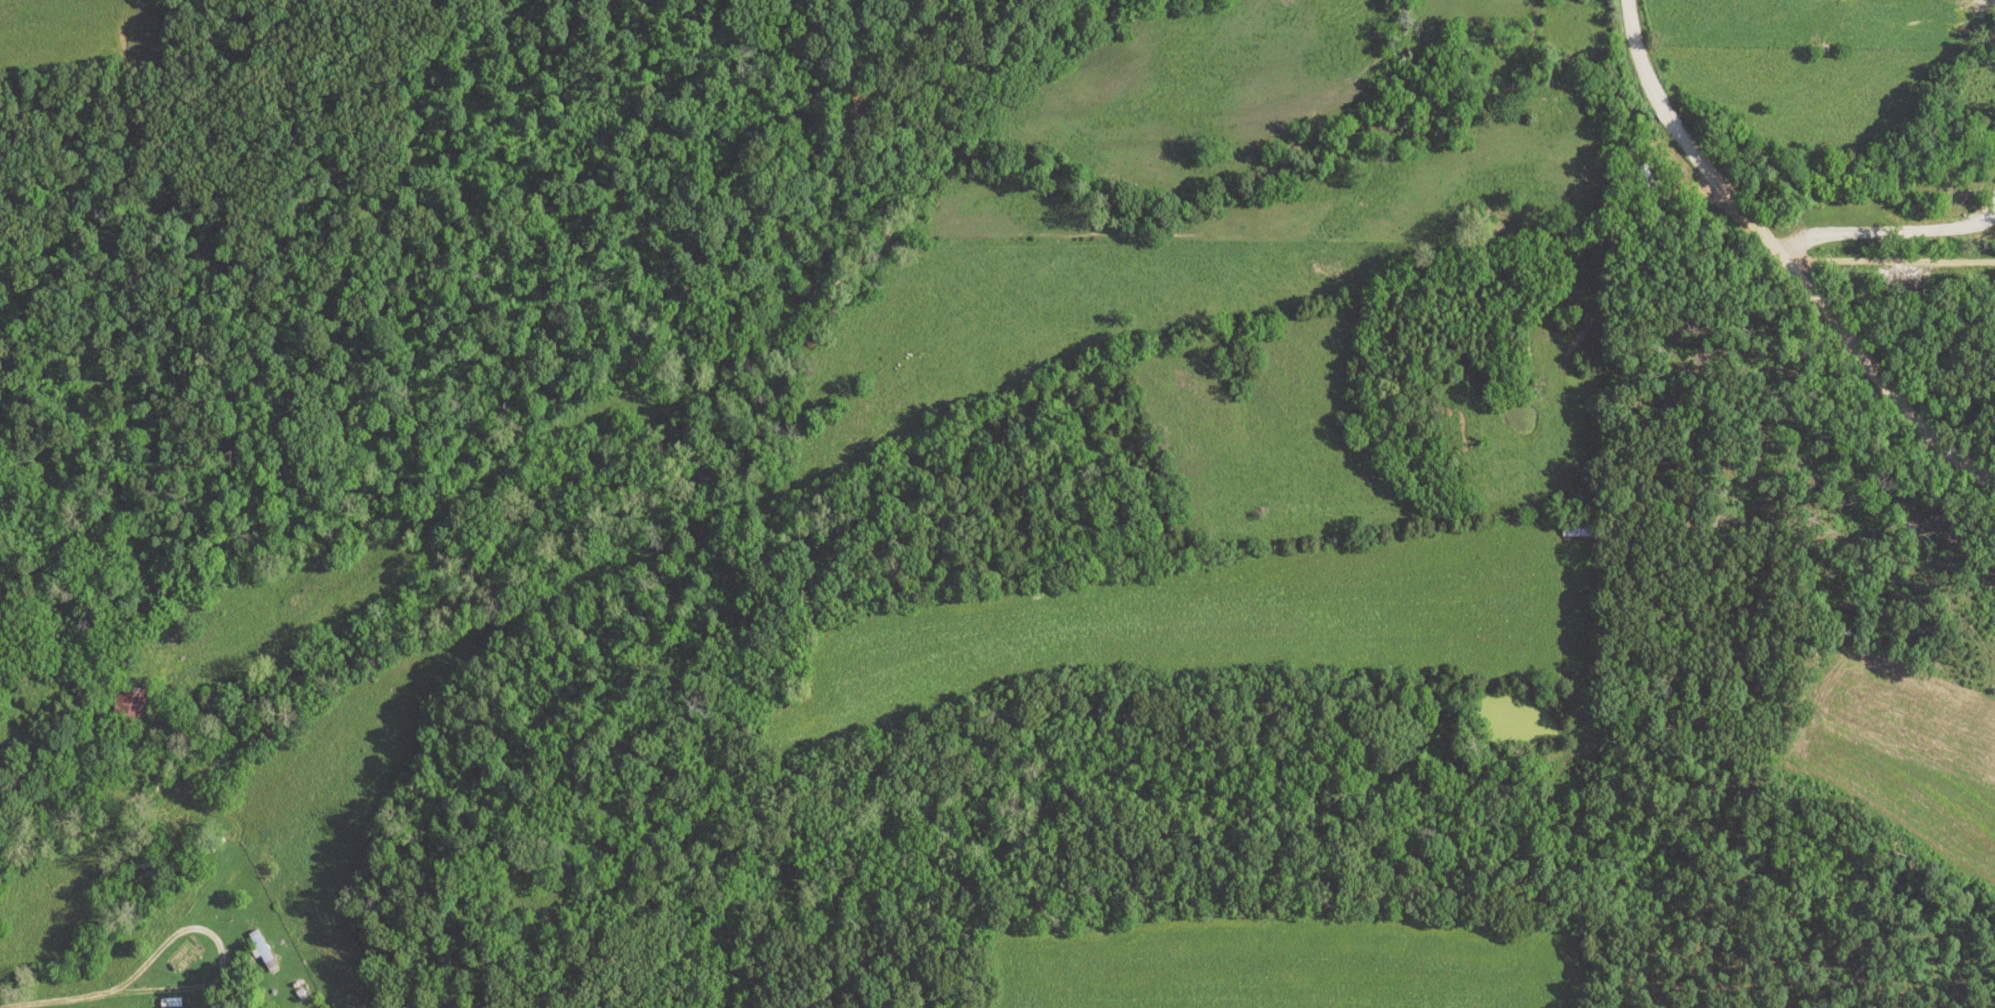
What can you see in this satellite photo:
road: (1992, 2)
road: (1894, 231)
road: (1782, 263)
road: (194, 911)
building: (260, 950)
road: (200, 984)

